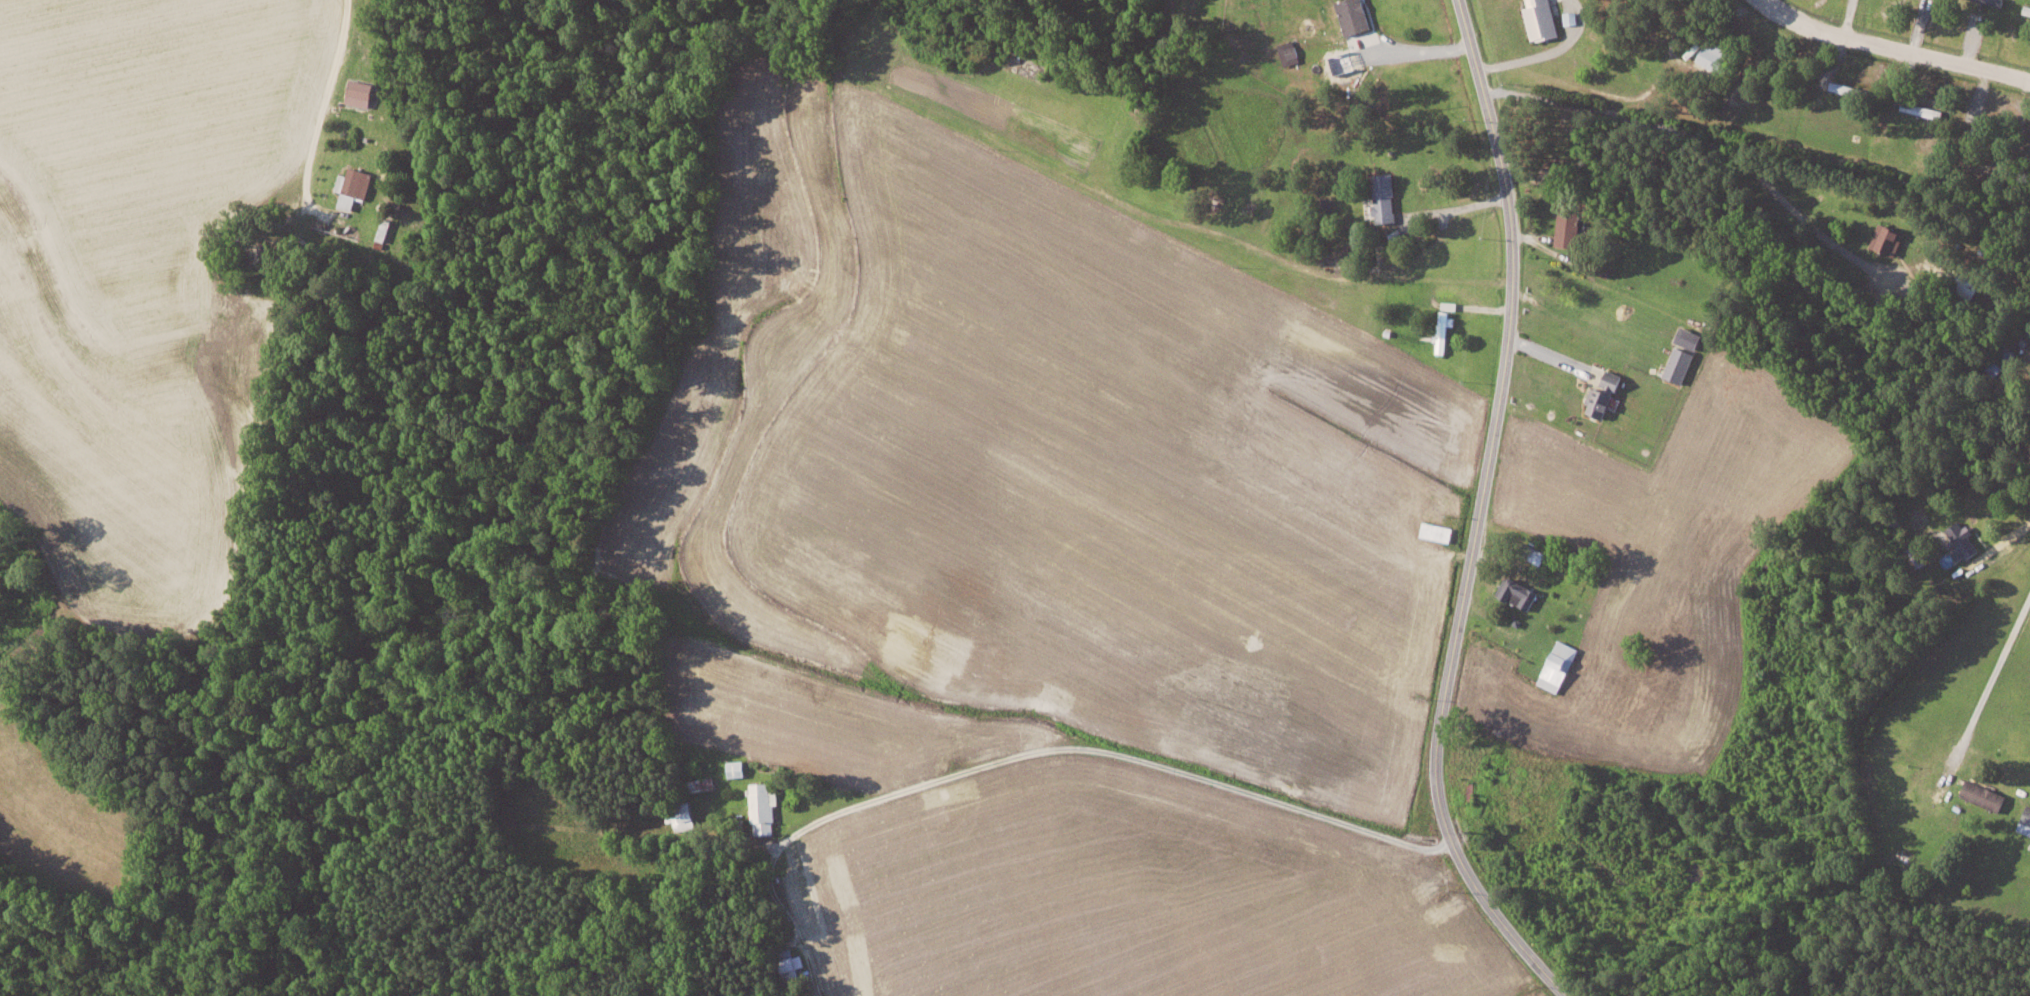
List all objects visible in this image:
building: (1994, 2)
building: (1354, 16)
building: (1570, 18)
building: (1542, 20)
road: (1415, 48)
road: (1891, 49)
building: (1290, 53)
road: (1548, 53)
building: (1714, 55)
building: (360, 92)
road: (321, 103)
building: (353, 186)
building: (1385, 197)
building: (1569, 221)
building: (1889, 238)
building: (1444, 330)
building: (1690, 338)
building: (1680, 363)
building: (1605, 395)
road: (1472, 516)
building: (1963, 539)
building: (1917, 556)
building: (1559, 665)
road: (1990, 682)
road: (1061, 747)
building: (737, 768)
building: (702, 783)
building: (1984, 795)
building: (763, 808)
building: (680, 815)
building: (2026, 822)
building: (790, 963)

